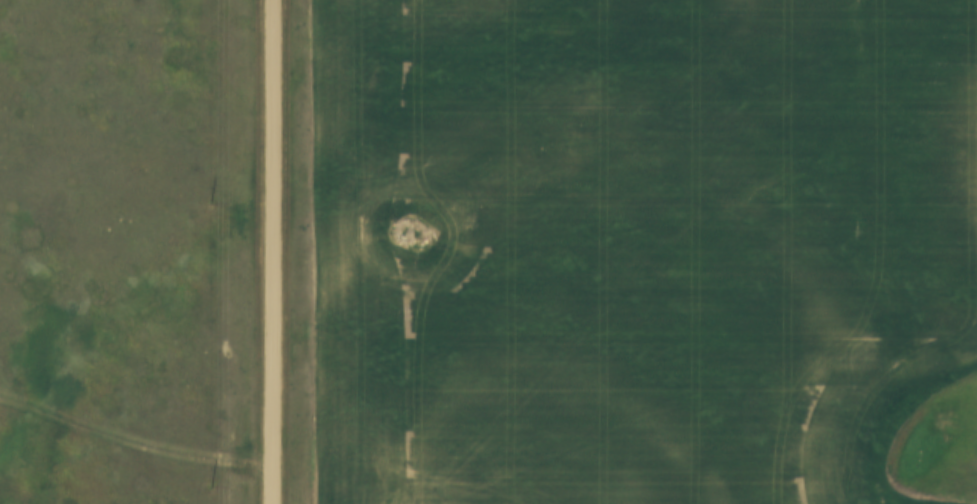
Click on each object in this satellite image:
road: (275, 252)

